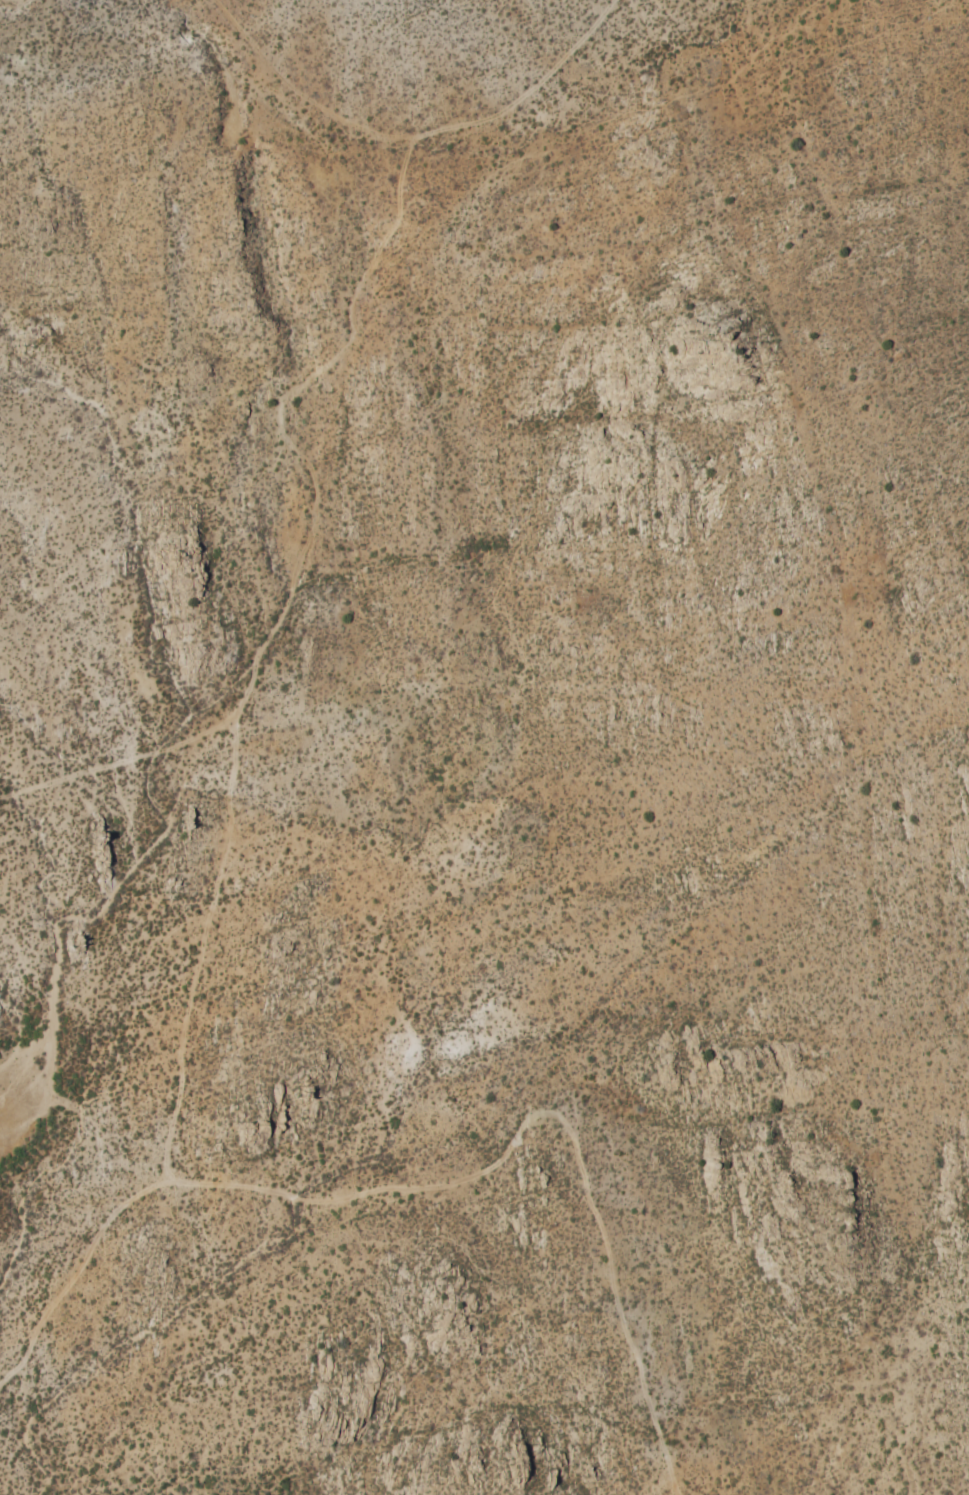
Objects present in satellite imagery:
road: (528, 91)
road: (297, 94)
road: (267, 635)
road: (120, 761)
road: (546, 1109)
road: (76, 1272)

